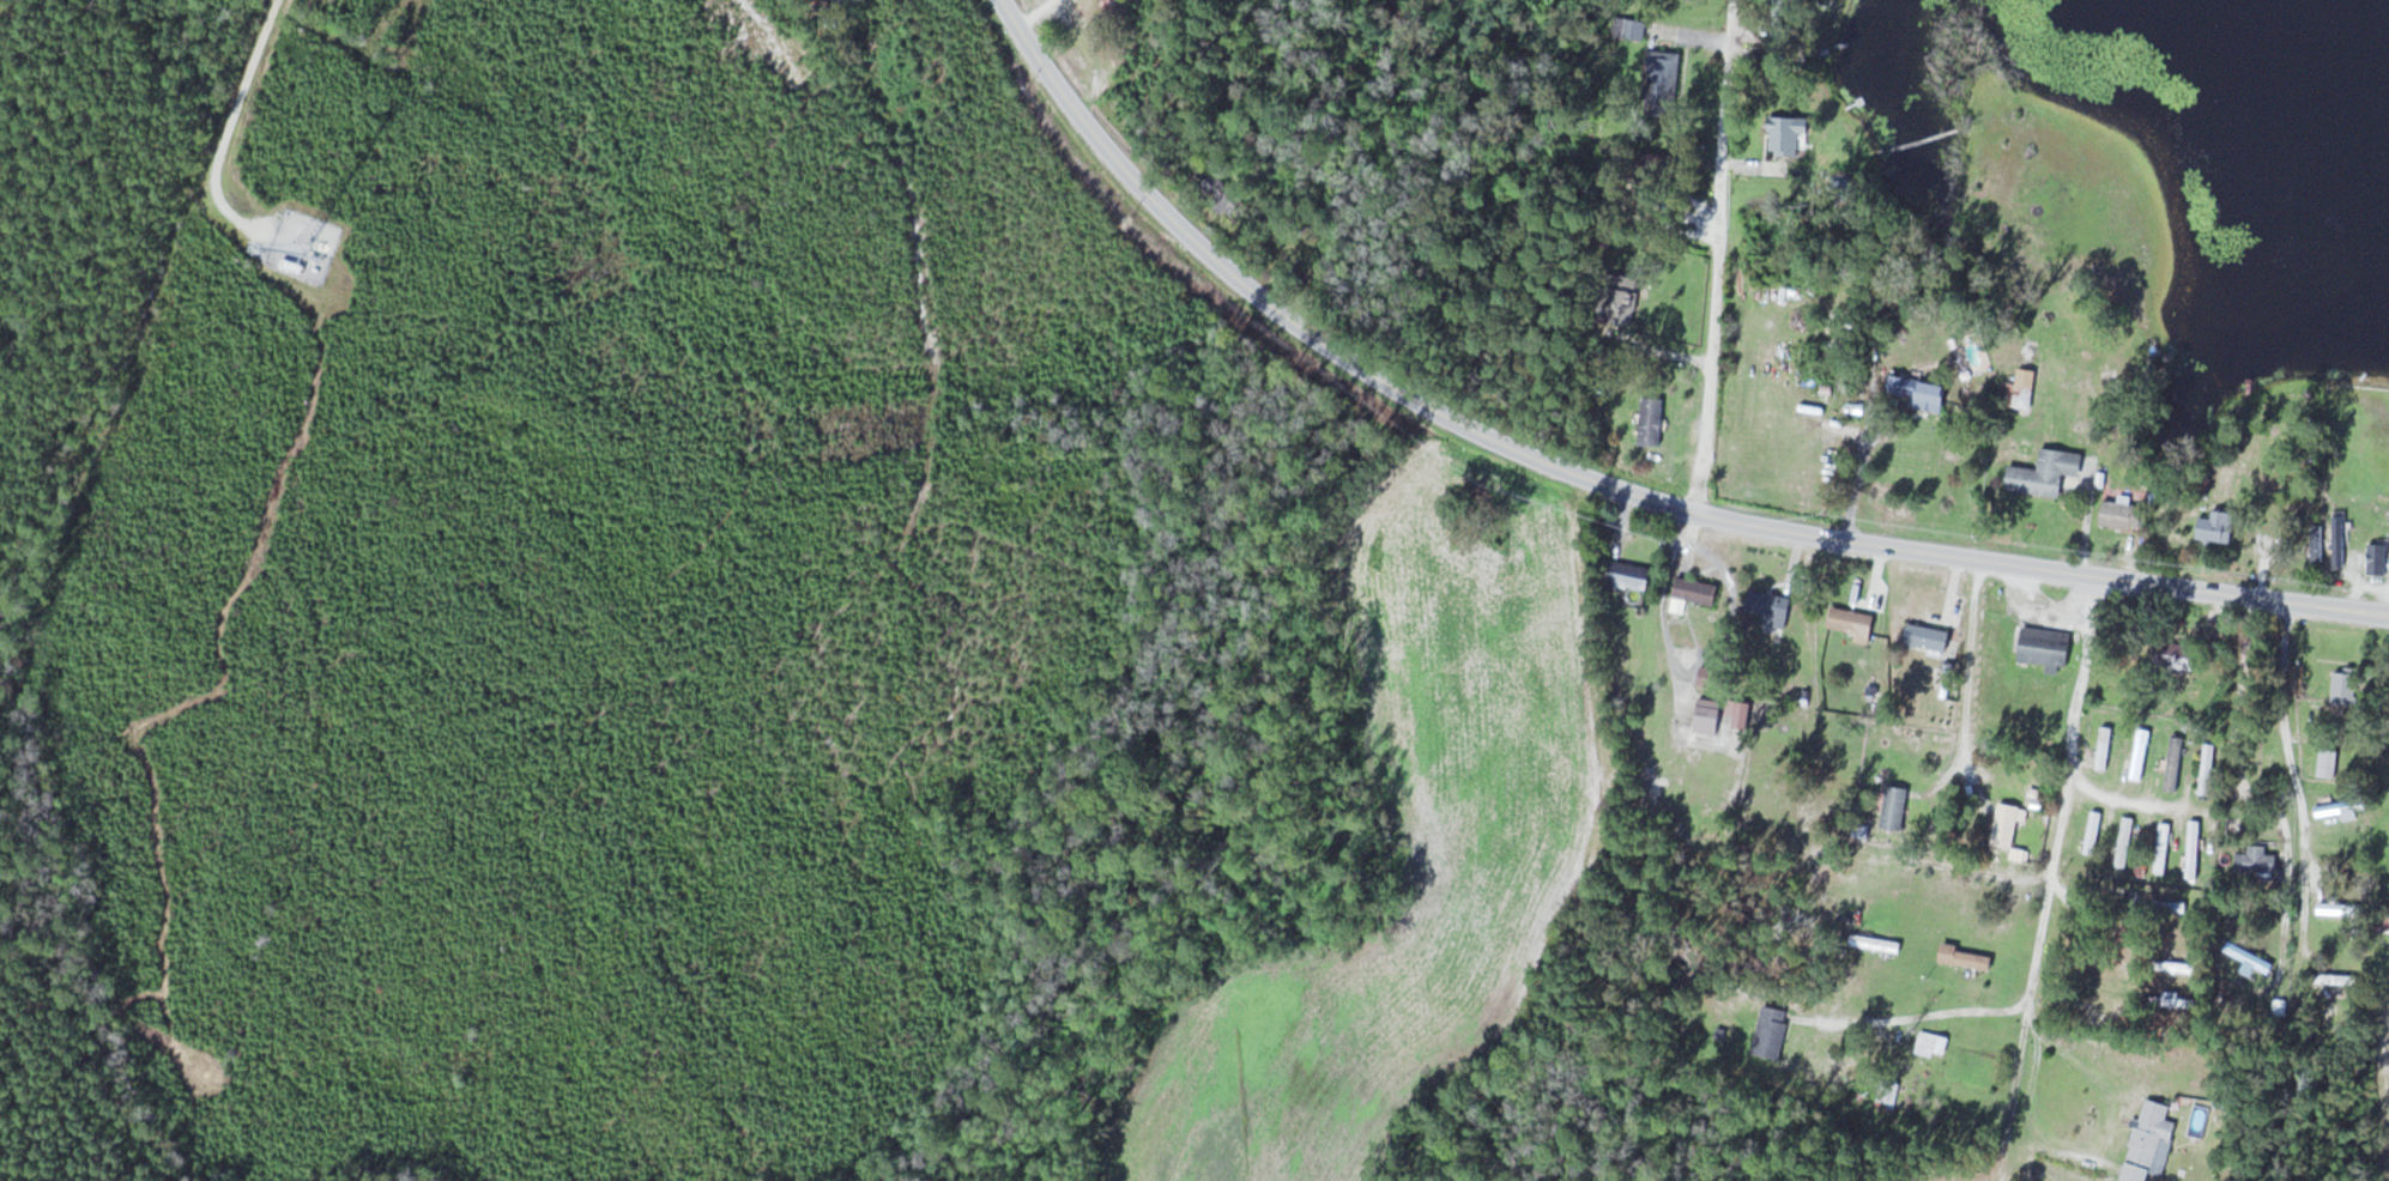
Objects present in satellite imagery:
building: (1114, 6)
road: (1035, 12)
building: (1663, 74)
road: (234, 119)
building: (1788, 134)
building: (1224, 198)
road: (1716, 253)
building: (2022, 387)
building: (1922, 393)
building: (1652, 420)
building: (2045, 472)
road: (1608, 484)
building: (2123, 514)
building: (2216, 526)
building: (2339, 540)
building: (2317, 543)
building: (2378, 558)
building: (1629, 574)
building: (1693, 592)
building: (1768, 608)
building: (1852, 620)
building: (1928, 636)
building: (2046, 646)
building: (2176, 654)
building: (1712, 676)
building: (2346, 686)
building: (2104, 746)
building: (2140, 753)
building: (2175, 762)
building: (2328, 762)
road: (2292, 763)
building: (2208, 768)
building: (1894, 806)
building: (2340, 807)
building: (2007, 824)
building: (2093, 831)
building: (2124, 840)
building: (2163, 847)
building: (2193, 848)
building: (2257, 860)
road: (2045, 904)
building: (2165, 904)
building: (2340, 907)
building: (1876, 943)
building: (1965, 956)
building: (2249, 957)
building: (2185, 967)
building: (2341, 980)
building: (1772, 1031)
building: (1933, 1043)
building: (2148, 1141)

